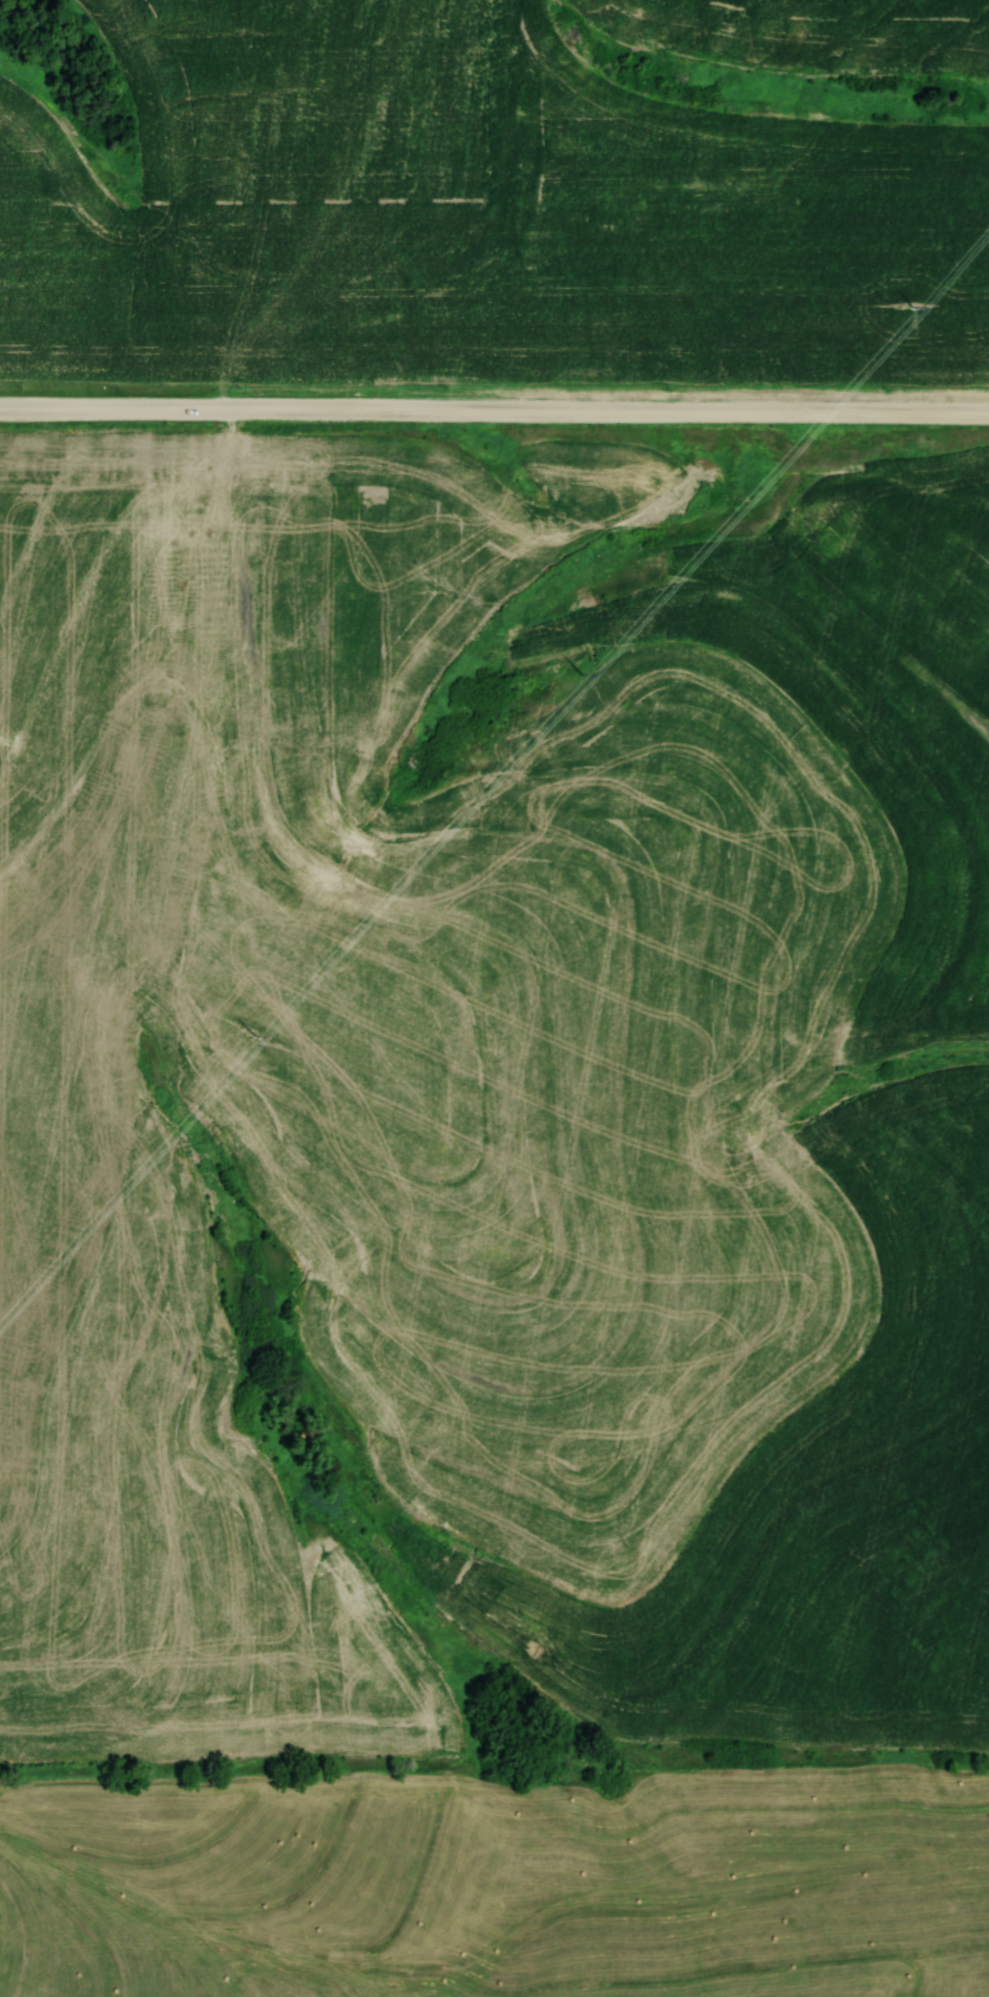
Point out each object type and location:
power tower: (935, 280)
road: (494, 406)
power tower: (653, 592)
power tower: (289, 995)

